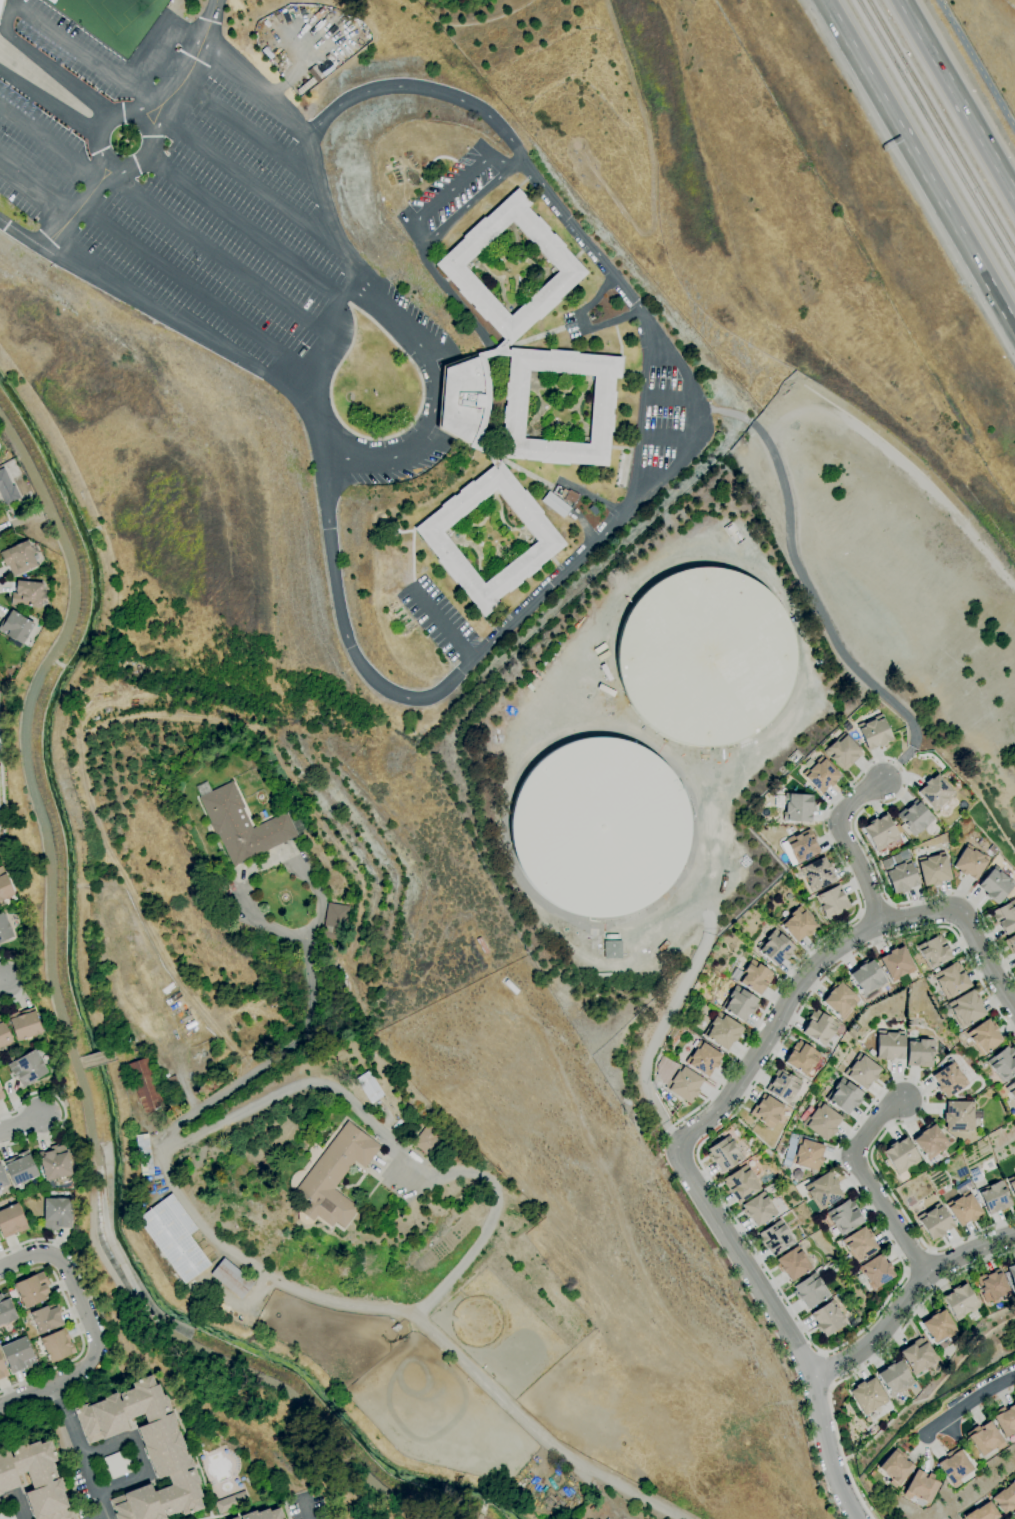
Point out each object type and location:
road: (11, 1)
building: (1, 5)
road: (214, 10)
park: (114, 11)
road: (86, 52)
road: (46, 64)
road: (977, 64)
road: (190, 65)
road: (958, 97)
road: (49, 101)
road: (151, 110)
railway: (942, 125)
road: (298, 126)
road: (249, 130)
railway: (936, 133)
road: (49, 143)
road: (103, 155)
road: (519, 161)
road: (919, 164)
road: (248, 177)
road: (459, 180)
road: (35, 189)
parking lot: (188, 193)
parking lot: (452, 194)
road: (78, 205)
road: (465, 207)
road: (243, 226)
road: (21, 234)
road: (220, 258)
road: (197, 291)
parking lot: (417, 313)
road: (176, 323)
road: (339, 323)
road: (582, 323)
flagpole: (374, 392)
road: (667, 399)
building: (511, 403)
road: (722, 411)
road: (642, 415)
parking lot: (662, 415)
road: (430, 417)
road: (663, 438)
building: (0, 461)
parking lot: (399, 471)
road: (666, 475)
building: (7, 489)
building: (556, 489)
building: (569, 496)
building: (554, 504)
building: (593, 510)
building: (733, 533)
building: (18, 558)
building: (27, 594)
road: (812, 597)
parking lot: (438, 618)
road: (443, 626)
building: (15, 627)
building: (707, 657)
storage tank: (707, 657)
building: (874, 732)
building: (843, 752)
building: (795, 758)
road: (896, 766)
building: (820, 775)
building: (935, 793)
road: (2, 797)
building: (795, 806)
building: (914, 817)
building: (760, 821)
building: (244, 824)
building: (600, 829)
storage tank: (600, 829)
building: (880, 832)
building: (977, 839)
building: (802, 846)
road: (848, 846)
building: (992, 849)
building: (903, 855)
building: (970, 862)
building: (934, 869)
building: (899, 873)
building: (817, 874)
building: (5, 885)
building: (996, 885)
road: (889, 899)
building: (833, 902)
building: (1005, 917)
building: (335, 921)
building: (798, 924)
building: (4, 928)
building: (611, 937)
road: (824, 939)
building: (1010, 944)
building: (775, 948)
building: (612, 950)
building: (934, 951)
road: (986, 959)
building: (896, 963)
building: (755, 977)
building: (867, 979)
road: (2, 980)
road: (25, 980)
building: (951, 980)
road: (791, 995)
building: (839, 1000)
building: (739, 1004)
building: (966, 1008)
building: (25, 1024)
building: (819, 1027)
building: (367, 1029)
road: (661, 1030)
building: (722, 1031)
building: (4, 1034)
building: (984, 1037)
road: (69, 1041)
road: (144, 1045)
building: (890, 1045)
building: (920, 1053)
building: (801, 1058)
road: (98, 1059)
building: (703, 1059)
road: (273, 1060)
building: (1003, 1063)
road: (79, 1064)
building: (28, 1068)
building: (862, 1072)
road: (181, 1074)
building: (949, 1080)
building: (684, 1084)
building: (145, 1085)
building: (783, 1086)
building: (369, 1087)
building: (1011, 1090)
building: (1, 1094)
building: (844, 1097)
building: (0, 1099)
road: (63, 1111)
building: (766, 1111)
building: (959, 1116)
building: (822, 1122)
road: (21, 1125)
building: (428, 1141)
building: (930, 1142)
road: (396, 1153)
building: (724, 1153)
building: (808, 1153)
building: (145, 1154)
building: (901, 1155)
building: (55, 1162)
building: (21, 1168)
building: (335, 1176)
building: (3, 1177)
road: (867, 1182)
building: (741, 1183)
building: (1012, 1184)
building: (823, 1190)
building: (995, 1197)
building: (963, 1208)
building: (759, 1209)
building: (57, 1213)
building: (844, 1217)
building: (12, 1221)
building: (935, 1222)
building: (174, 1238)
building: (775, 1238)
building: (860, 1244)
road: (930, 1251)
building: (847, 1259)
road: (919, 1262)
building: (793, 1263)
building: (875, 1272)
road: (906, 1272)
building: (1012, 1274)
building: (232, 1279)
building: (992, 1285)
building: (33, 1289)
building: (810, 1291)
road: (906, 1297)
building: (841, 1298)
building: (960, 1301)
building: (6, 1310)
building: (46, 1318)
building: (828, 1318)
road: (421, 1320)
road: (92, 1326)
building: (938, 1326)
road: (76, 1327)
road: (105, 1327)
road: (783, 1330)
road: (810, 1340)
building: (57, 1345)
road: (821, 1354)
building: (18, 1355)
building: (918, 1356)
road: (869, 1361)
building: (2, 1369)
road: (825, 1371)
building: (894, 1377)
road: (830, 1387)
road: (56, 1391)
building: (867, 1396)
road: (968, 1403)
building: (1005, 1419)
building: (984, 1438)
building: (63, 1440)
building: (146, 1450)
road: (138, 1456)
road: (83, 1459)
building: (118, 1464)
building: (954, 1466)
building: (895, 1467)
building: (102, 1470)
building: (35, 1479)
building: (921, 1486)
building: (1005, 1498)
road: (17, 1499)
road: (487, 1500)
building: (232, 1502)
road: (303, 1506)
building: (983, 1512)
building: (263, 1514)
building: (7, 1515)
road: (103, 1517)
building: (325, 1517)
building: (235, 1518)
building: (606, 1518)

